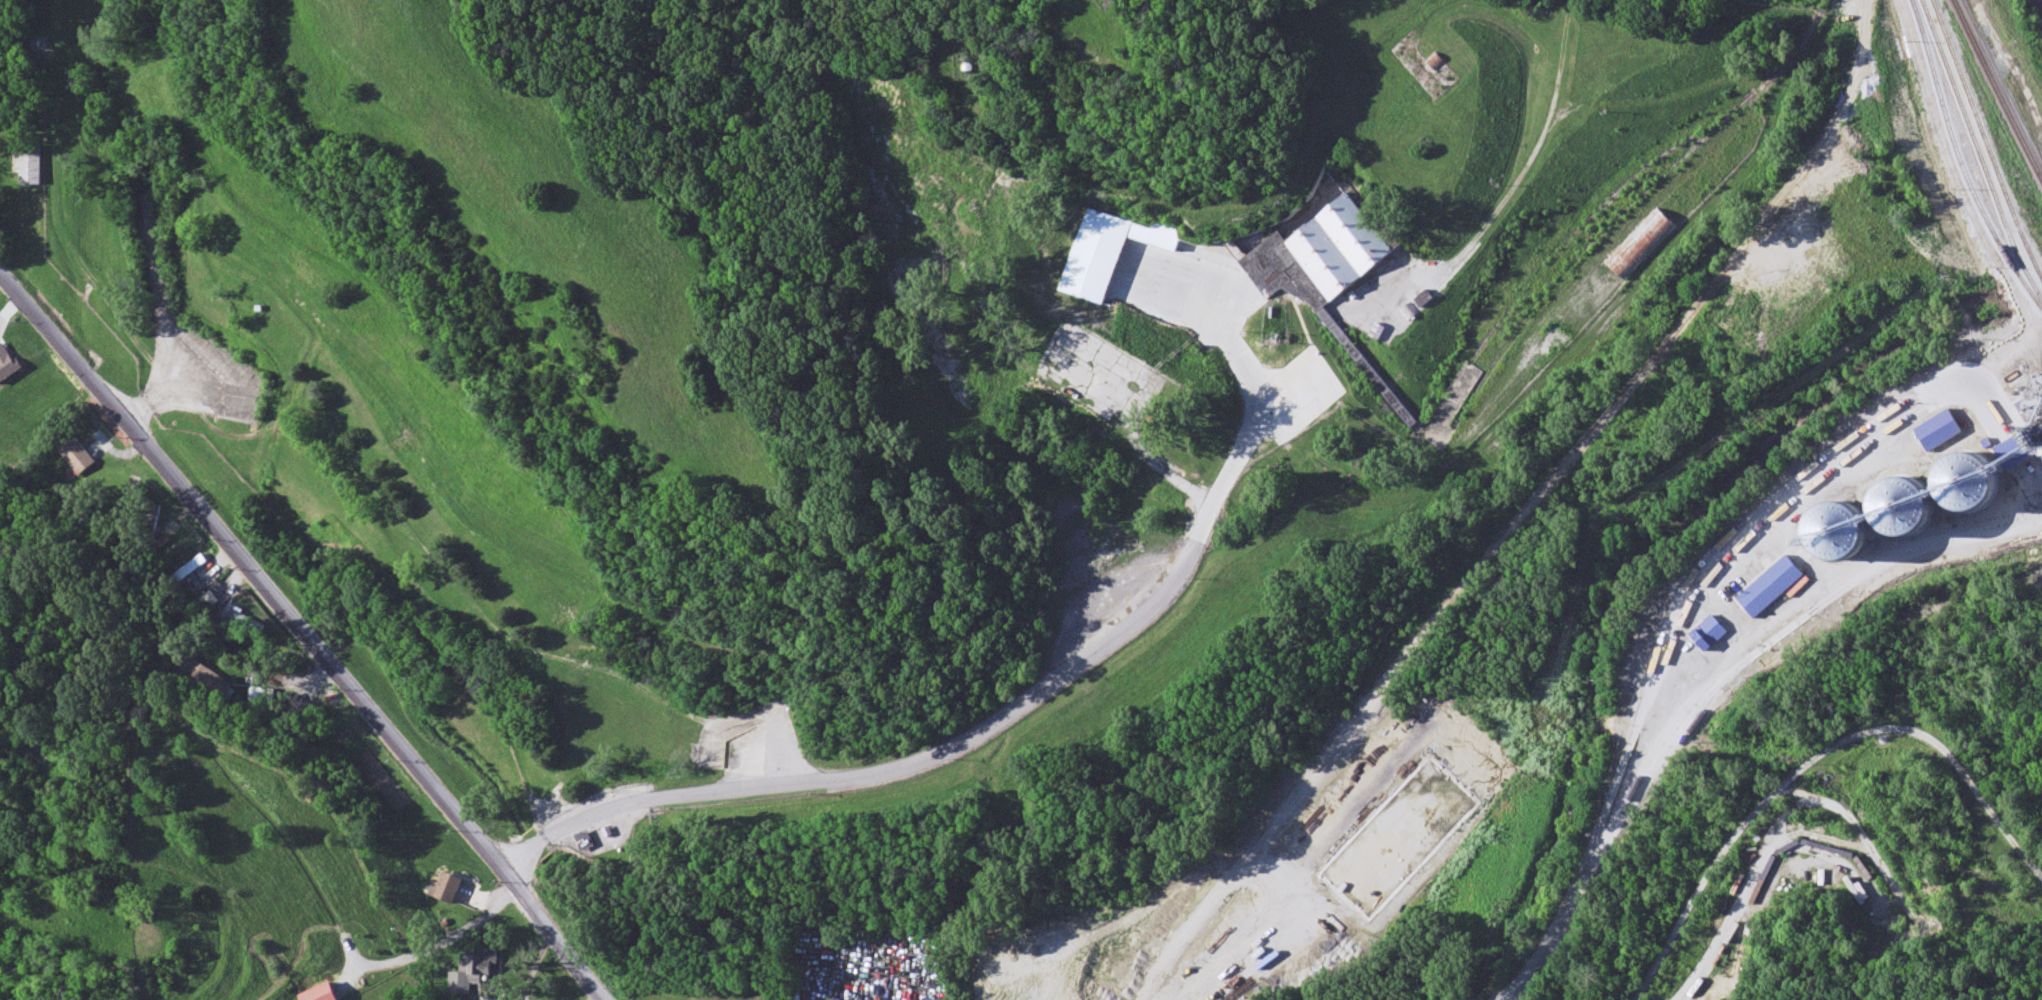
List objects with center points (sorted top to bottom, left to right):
park: (1791, 4)
railway: (1822, 6)
railway: (1996, 91)
railway: (1984, 141)
railway: (1977, 153)
railway: (1626, 211)
railway: (1597, 214)
building: (1643, 244)
building: (1321, 260)
road: (1191, 285)
building: (1807, 286)
building: (1402, 411)
building: (1967, 472)
building: (1904, 497)
building: (1839, 524)
building: (1770, 578)
building: (1707, 625)
road: (307, 633)
road: (1007, 714)
road: (1678, 723)
road: (1815, 767)
road: (526, 859)
road: (1731, 929)

